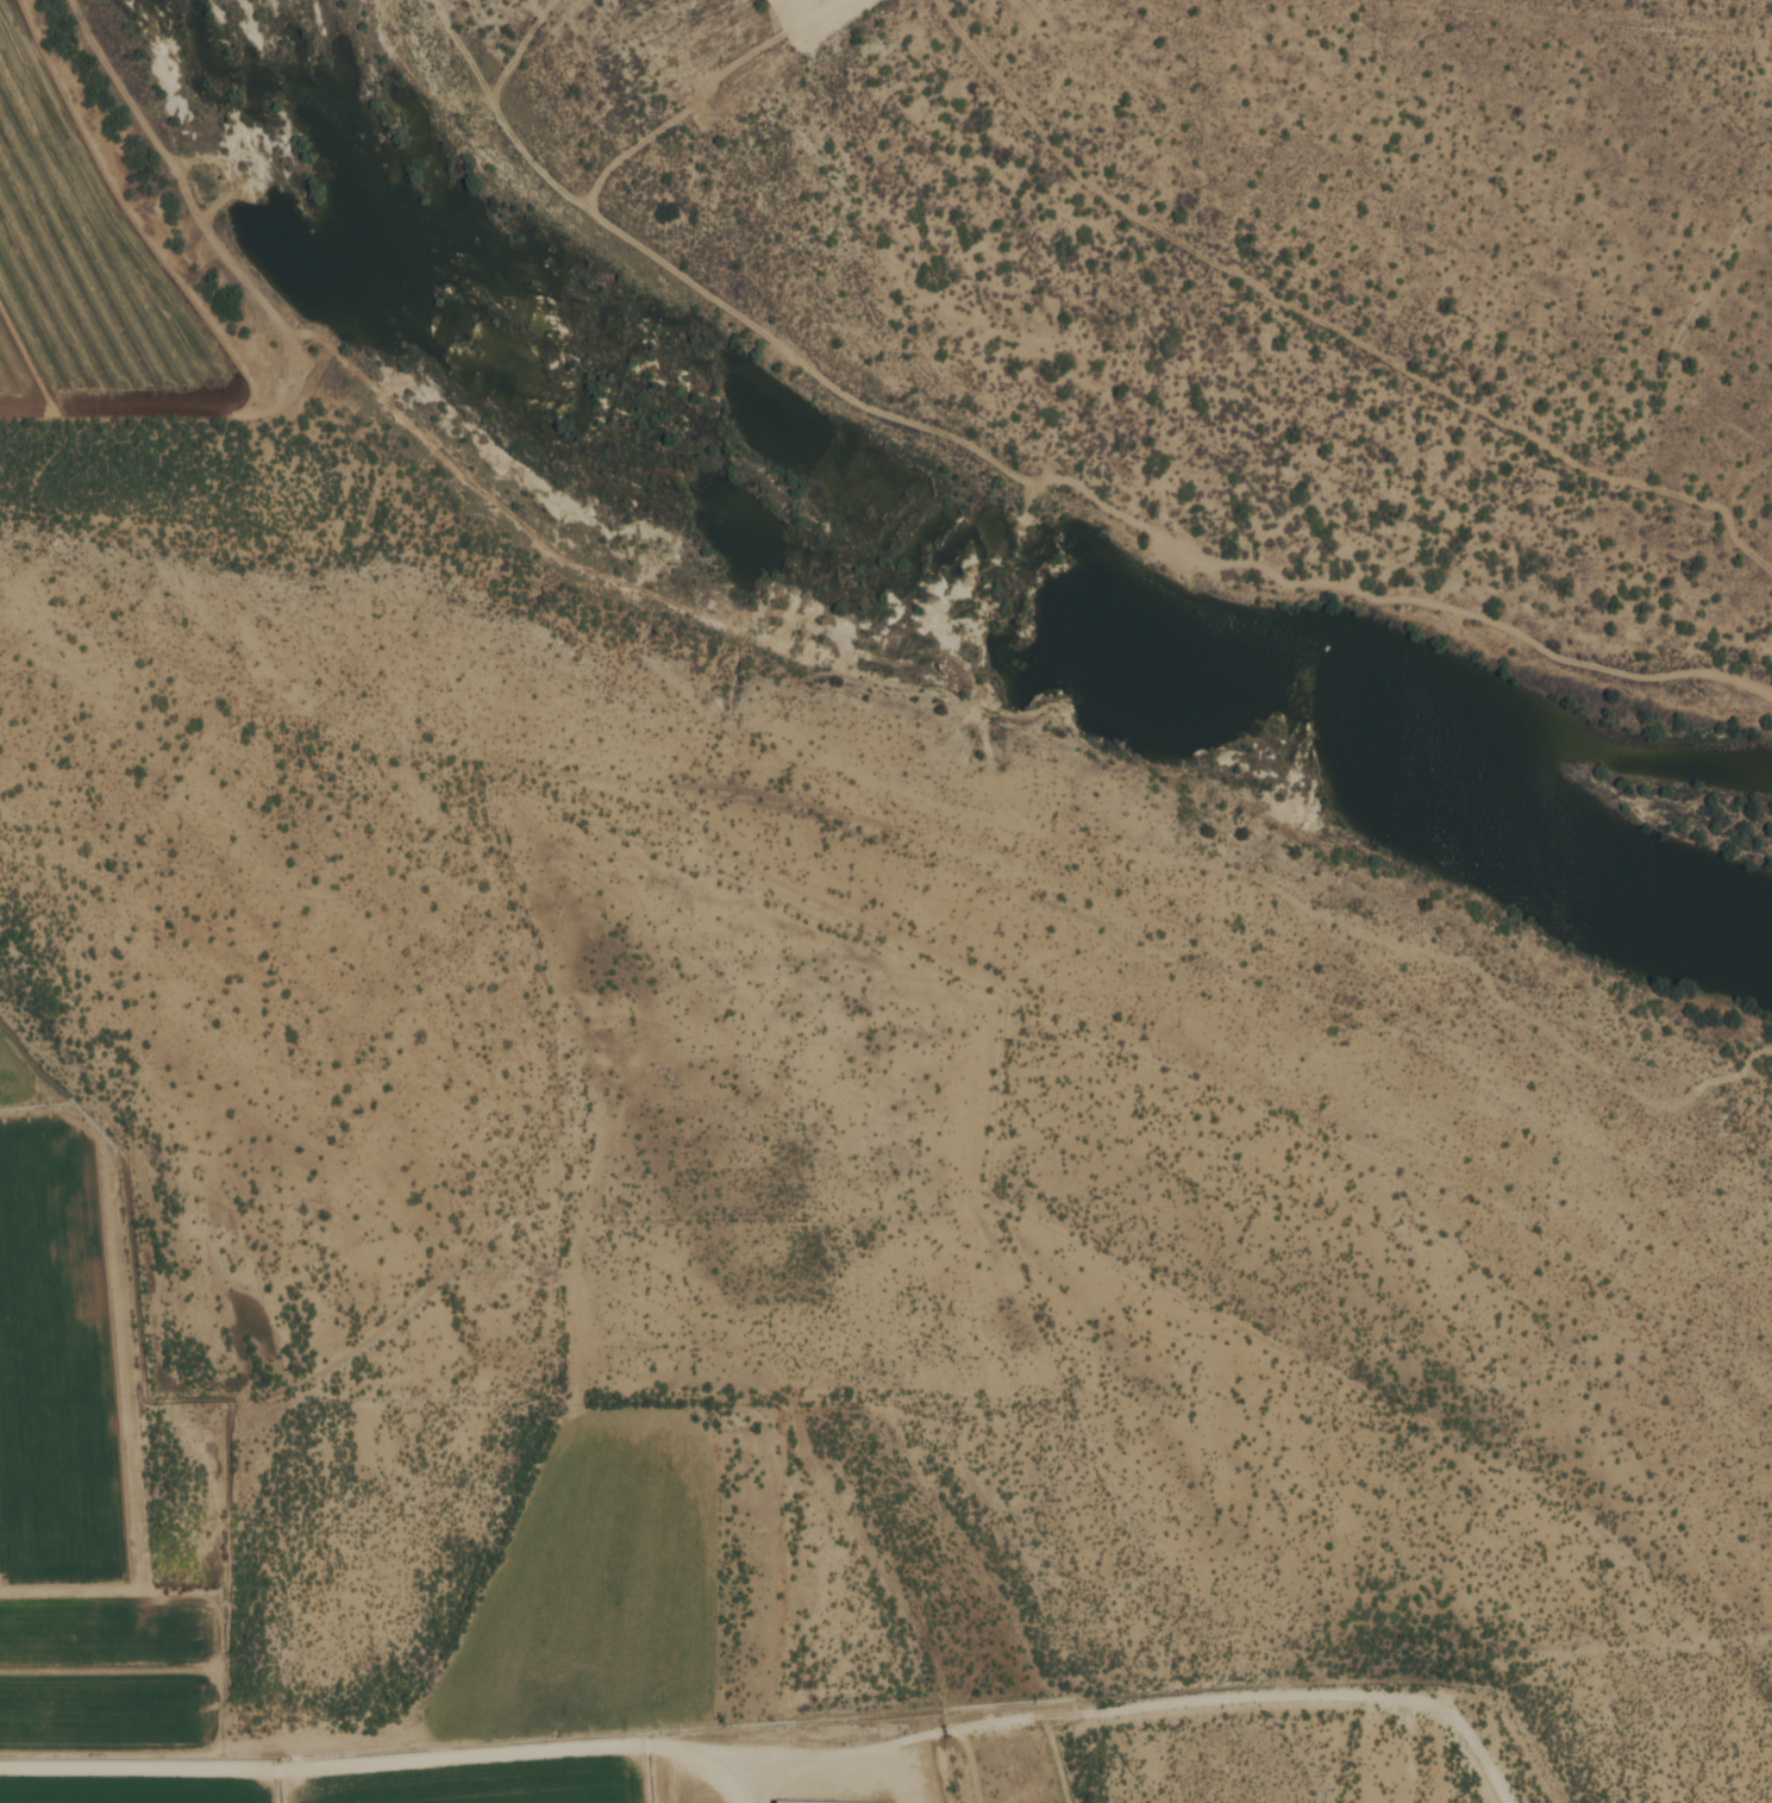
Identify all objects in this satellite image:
road: (464, 46)
road: (1323, 323)
road: (296, 373)
road: (187, 413)
road: (1028, 476)
river: (907, 555)
road: (946, 652)
road: (637, 782)
road: (683, 1746)
building: (816, 1802)

